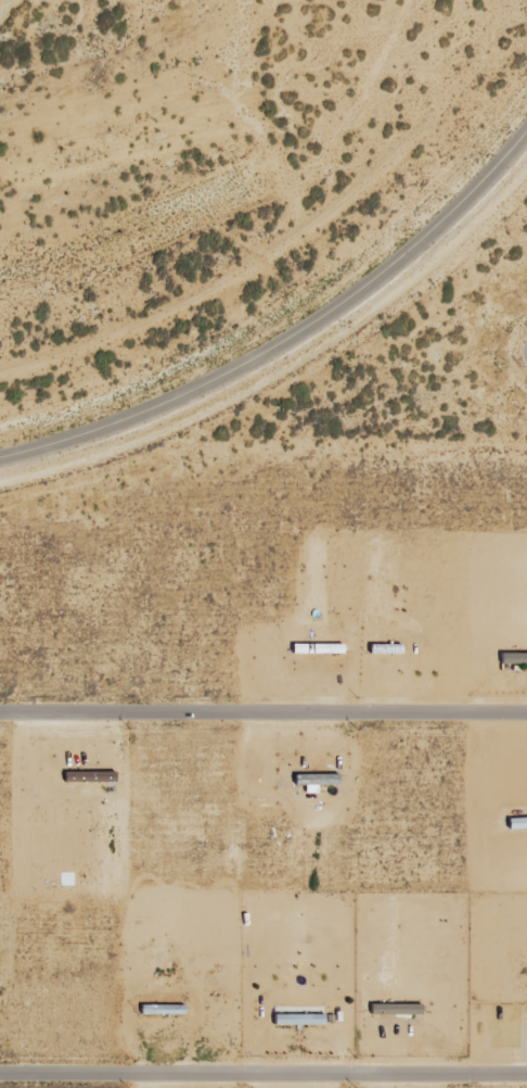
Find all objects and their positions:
road: (290, 336)
road: (263, 712)
road: (263, 1070)

